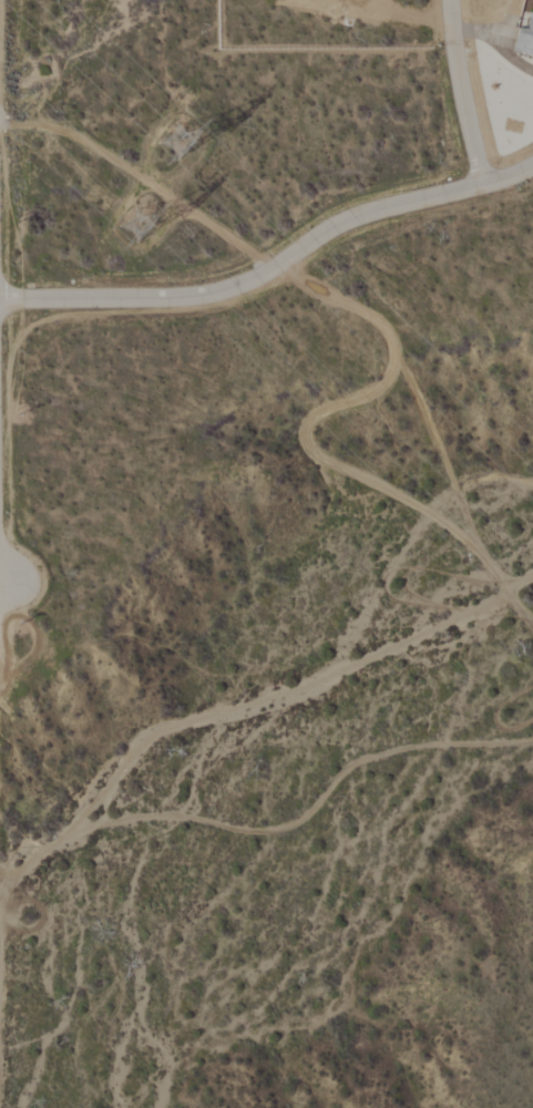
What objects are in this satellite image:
building: (525, 40)
road: (460, 90)
power tower: (187, 140)
road: (140, 176)
power tower: (135, 230)
road: (276, 265)
road: (310, 448)
road: (3, 564)
road: (3, 592)
road: (3, 612)
road: (273, 834)

